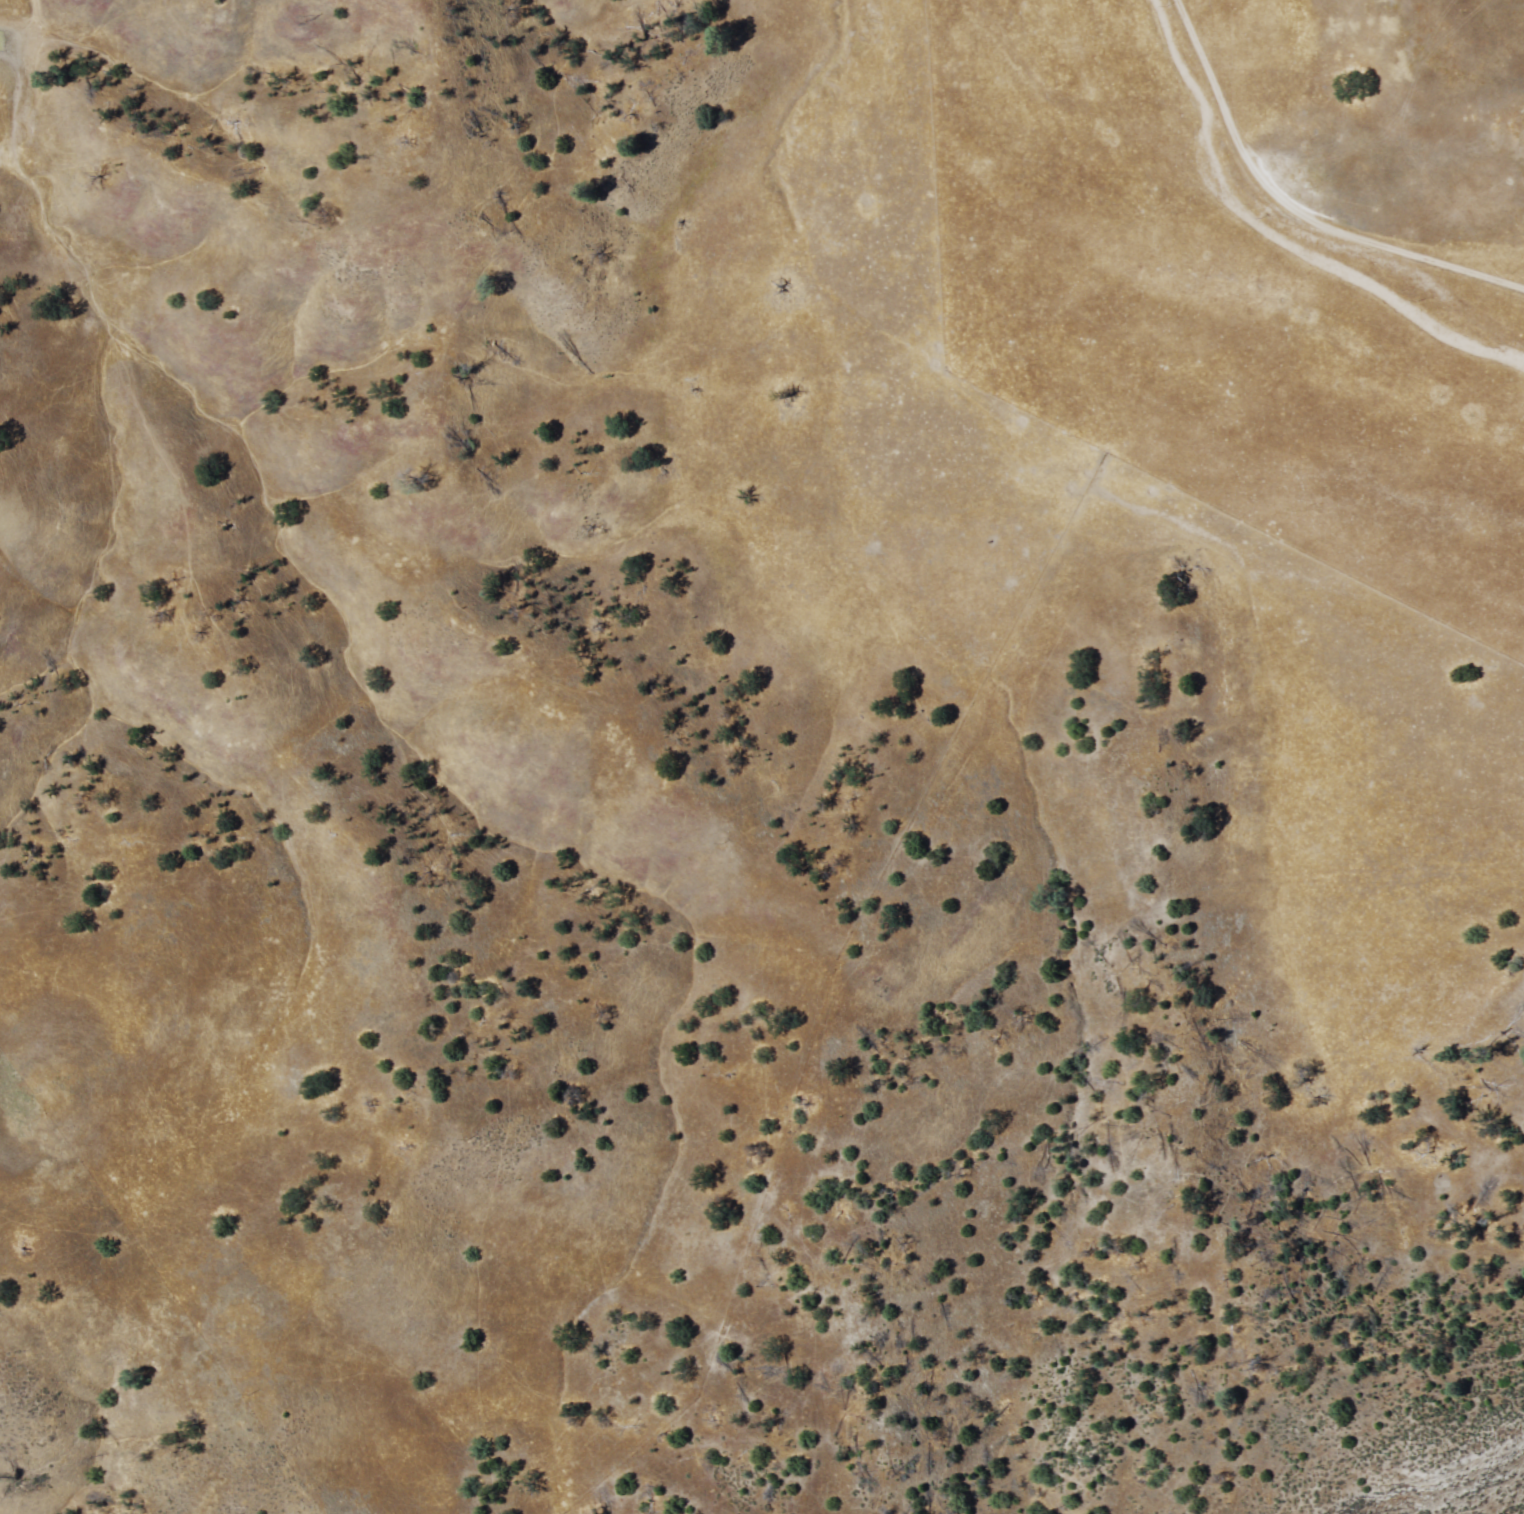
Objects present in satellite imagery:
road: (1293, 210)

